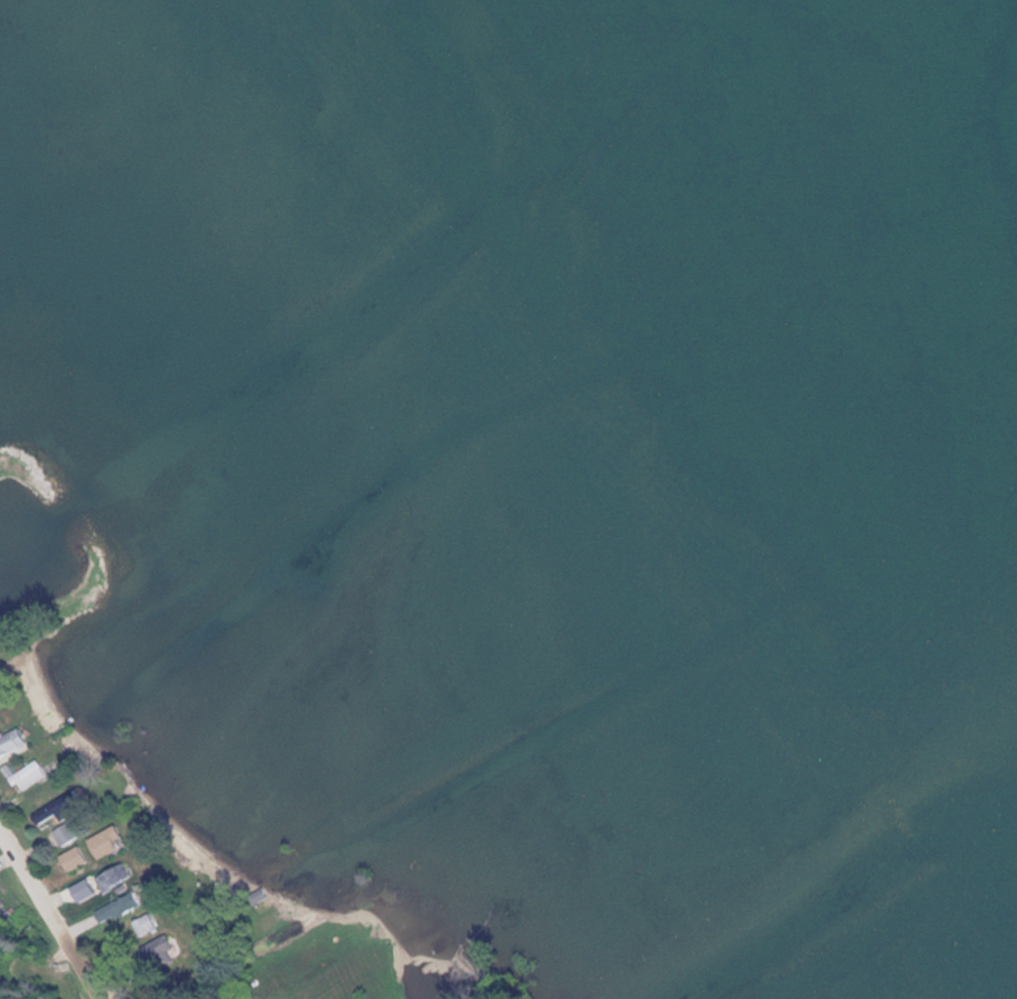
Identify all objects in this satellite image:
building: (10, 741)
building: (26, 774)
building: (65, 835)
building: (104, 842)
building: (74, 860)
building: (112, 878)
building: (262, 894)
building: (1, 902)
building: (118, 908)
road: (53, 912)
building: (144, 925)
road: (320, 949)
building: (161, 950)
park: (506, 983)

